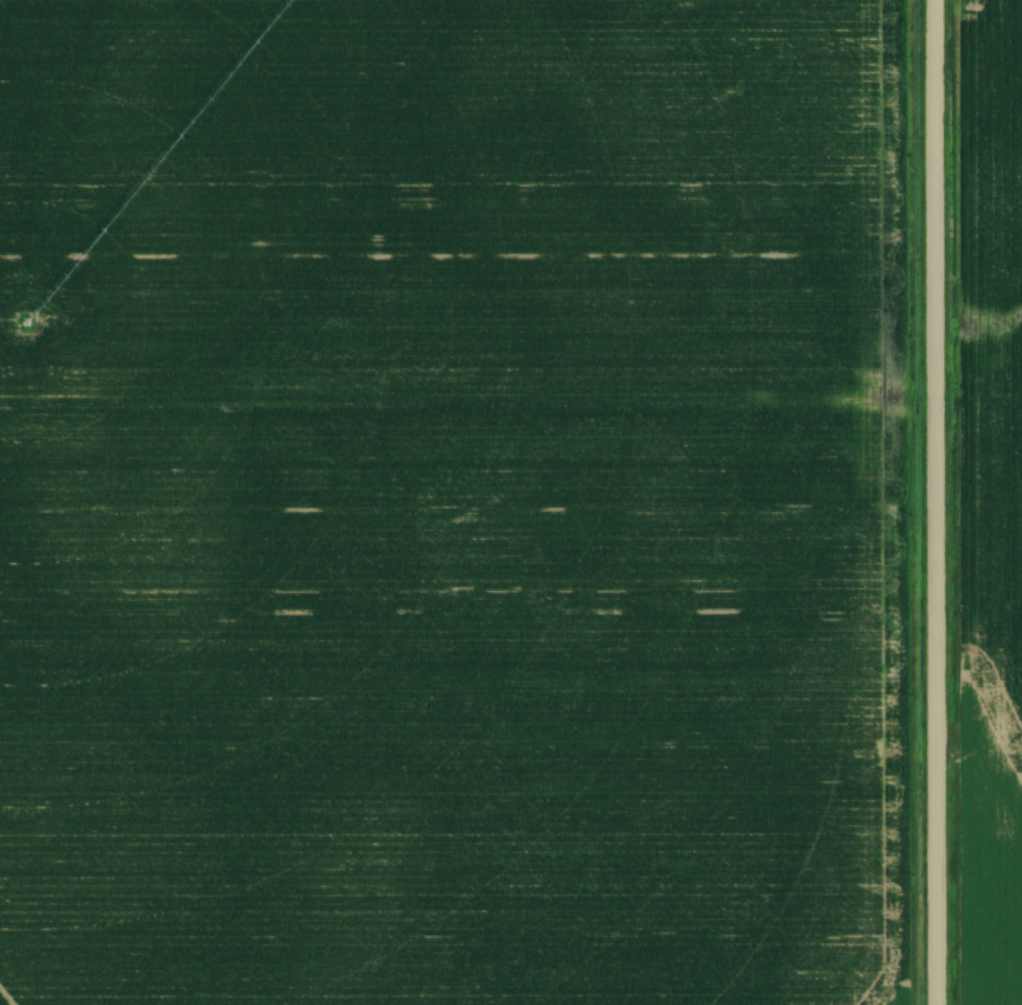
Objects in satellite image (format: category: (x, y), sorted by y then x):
road: (930, 502)

